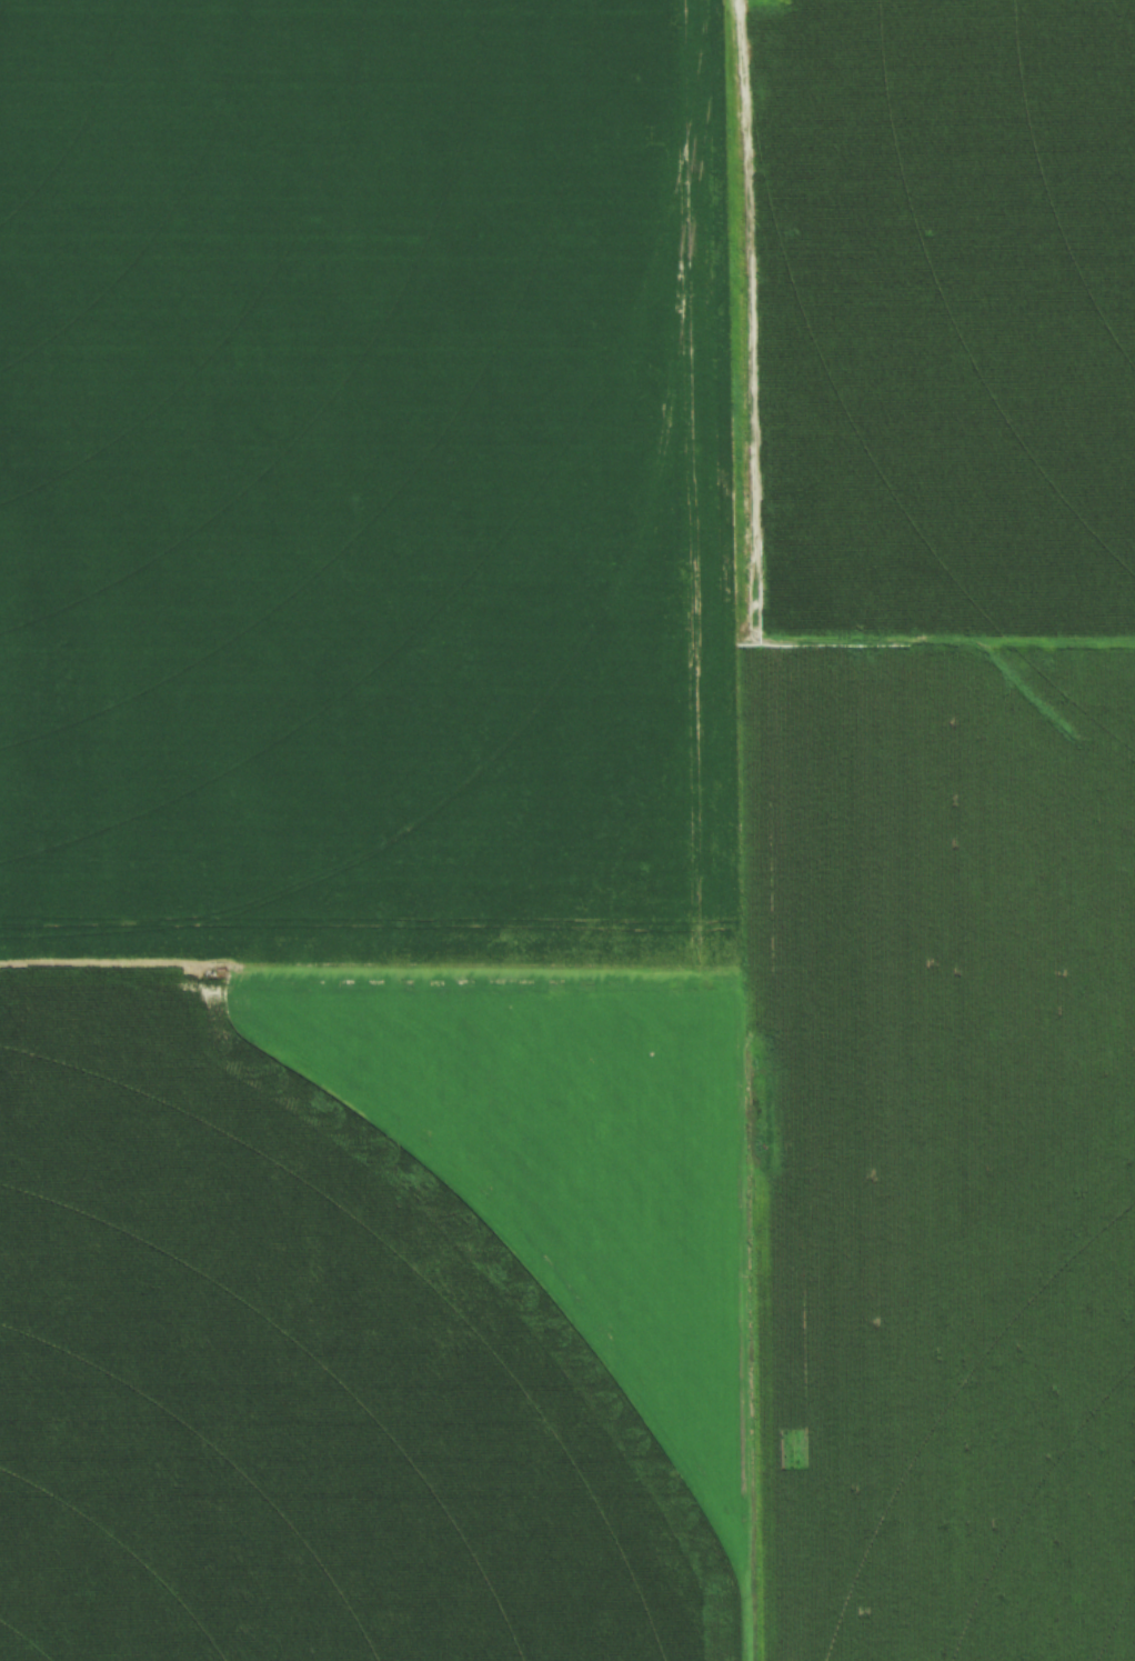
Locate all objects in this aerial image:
crop: (567, 830)

